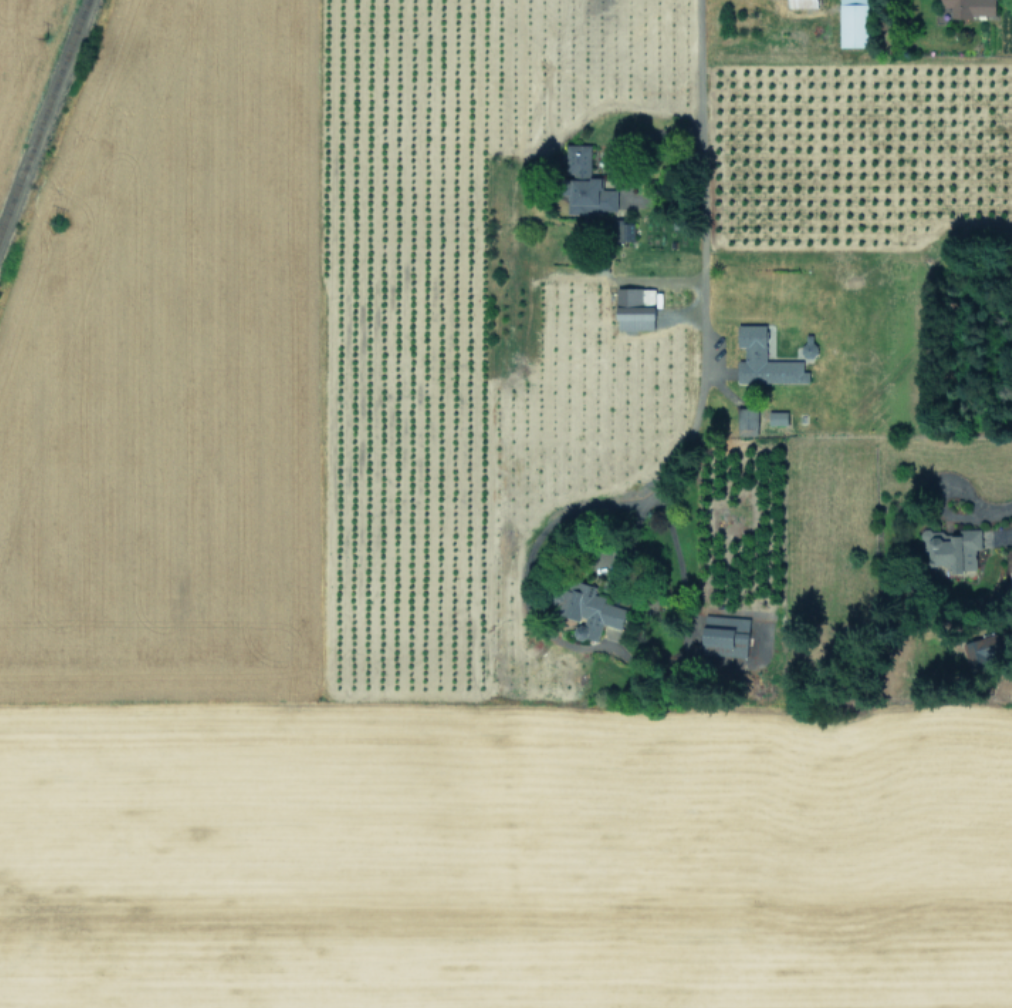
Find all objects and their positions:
building: (802, 3)
building: (970, 8)
building: (853, 23)
railway: (43, 115)
building: (585, 184)
building: (621, 230)
road: (702, 295)
building: (635, 303)
road: (501, 350)
building: (764, 360)
building: (747, 417)
building: (777, 417)
road: (996, 512)
crop: (520, 515)
road: (555, 517)
building: (951, 548)
building: (1010, 580)
building: (589, 610)
building: (725, 635)
building: (983, 651)

